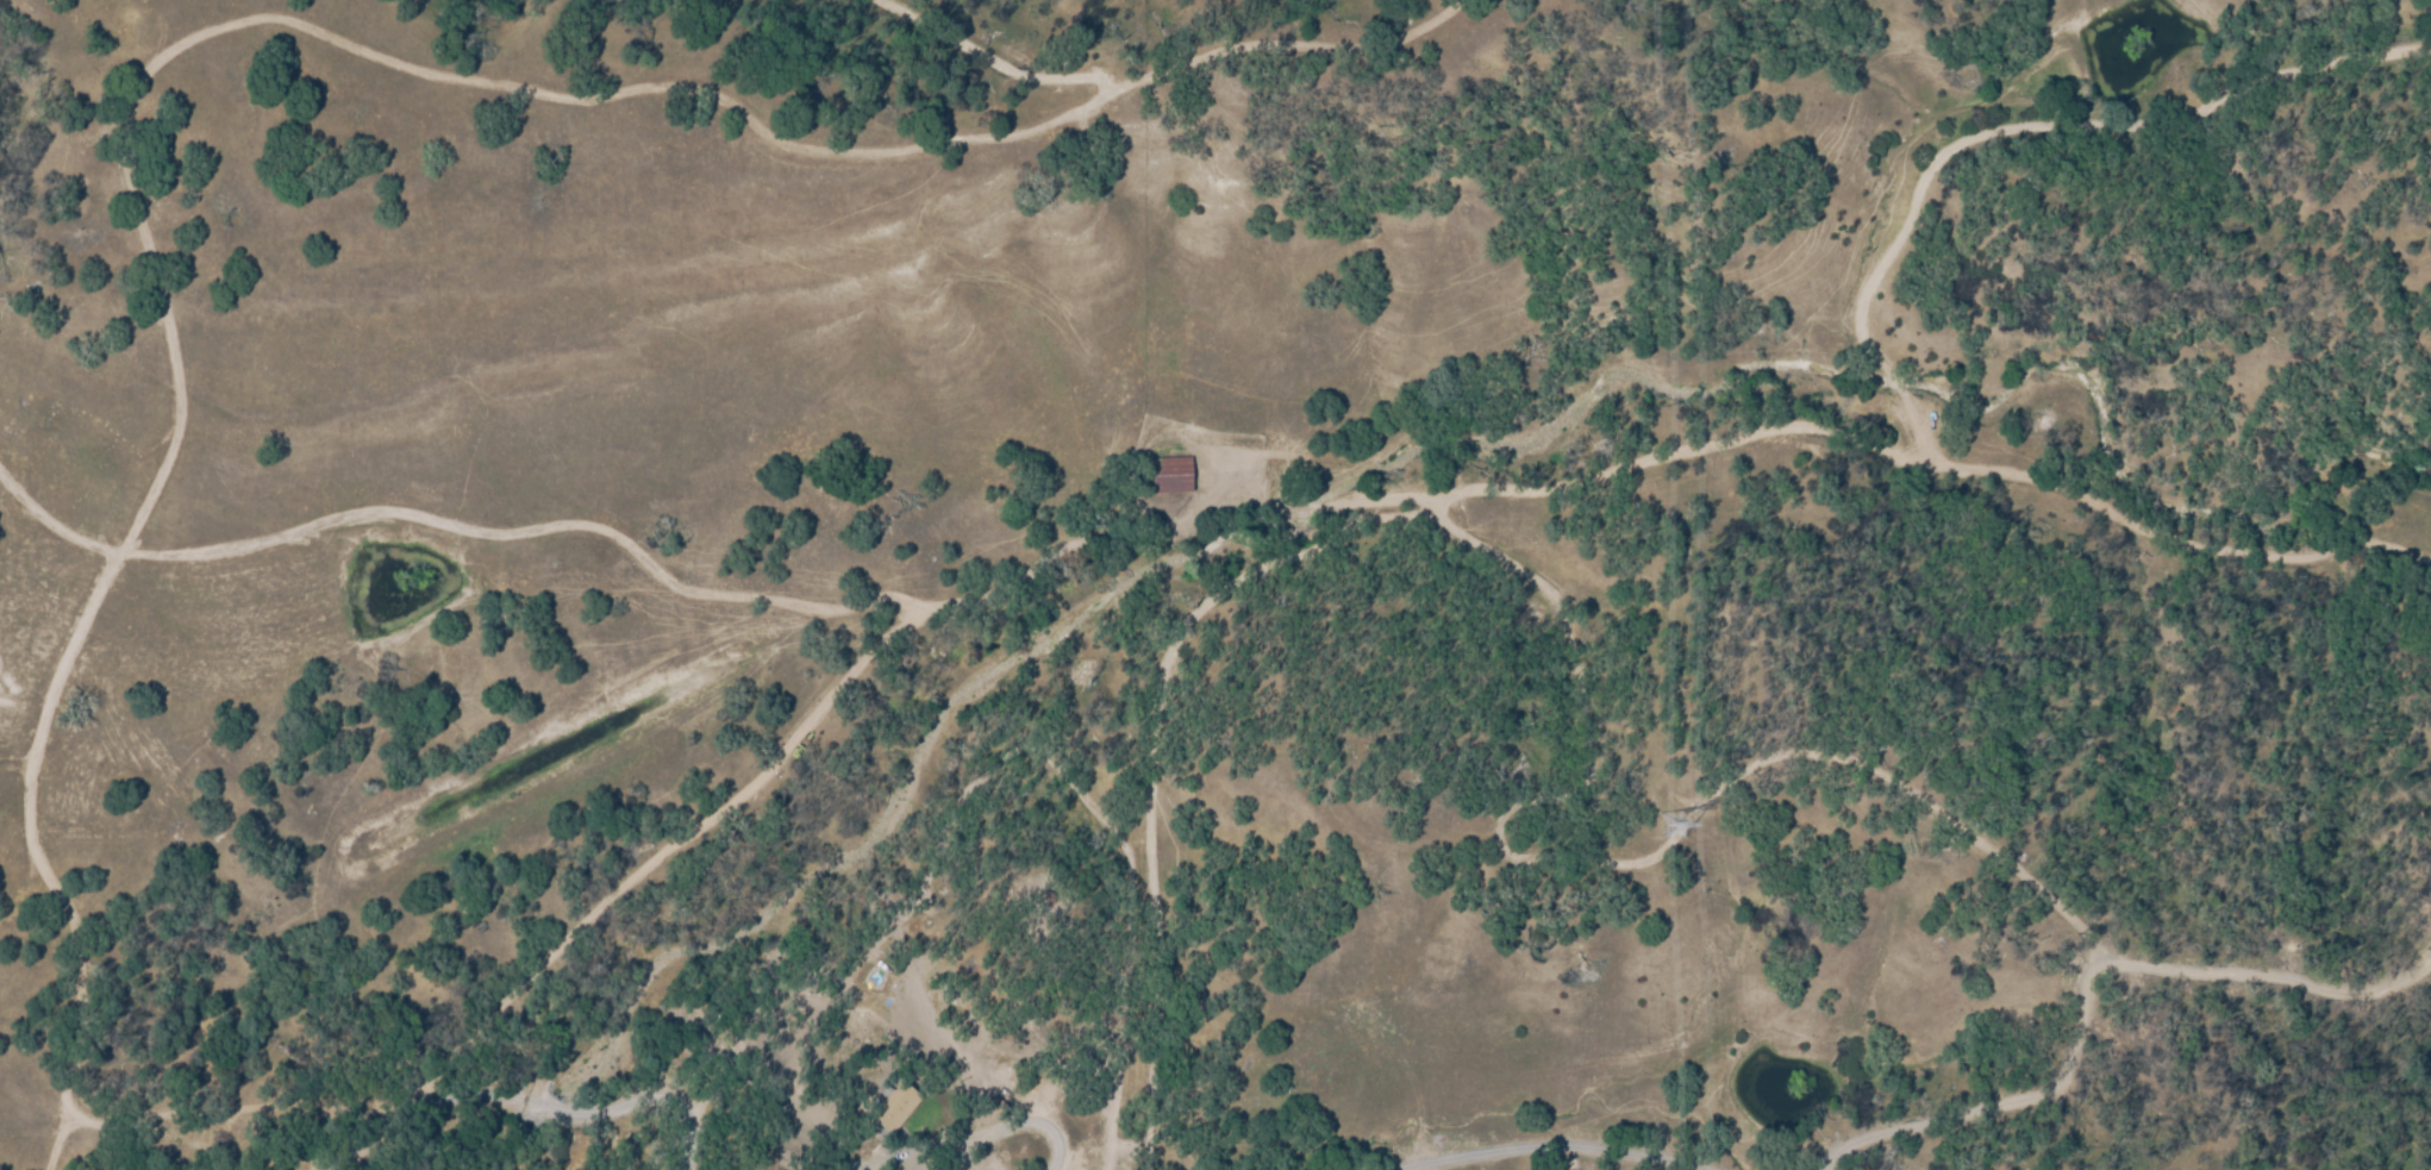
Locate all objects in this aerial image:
building: (1171, 475)
power tower: (1676, 830)
road: (529, 1106)
building: (895, 1108)

